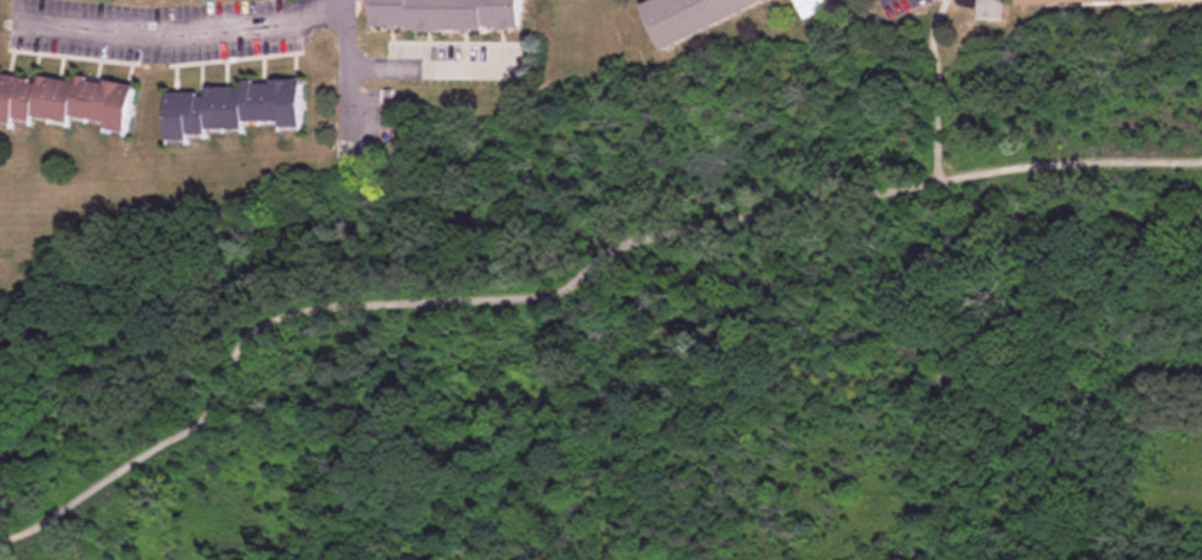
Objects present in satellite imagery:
building: (1041, 0)
building: (811, 7)
building: (447, 13)
building: (693, 17)
road: (185, 29)
road: (430, 69)
road: (348, 73)
road: (936, 88)
building: (67, 100)
building: (230, 106)
road: (565, 287)

